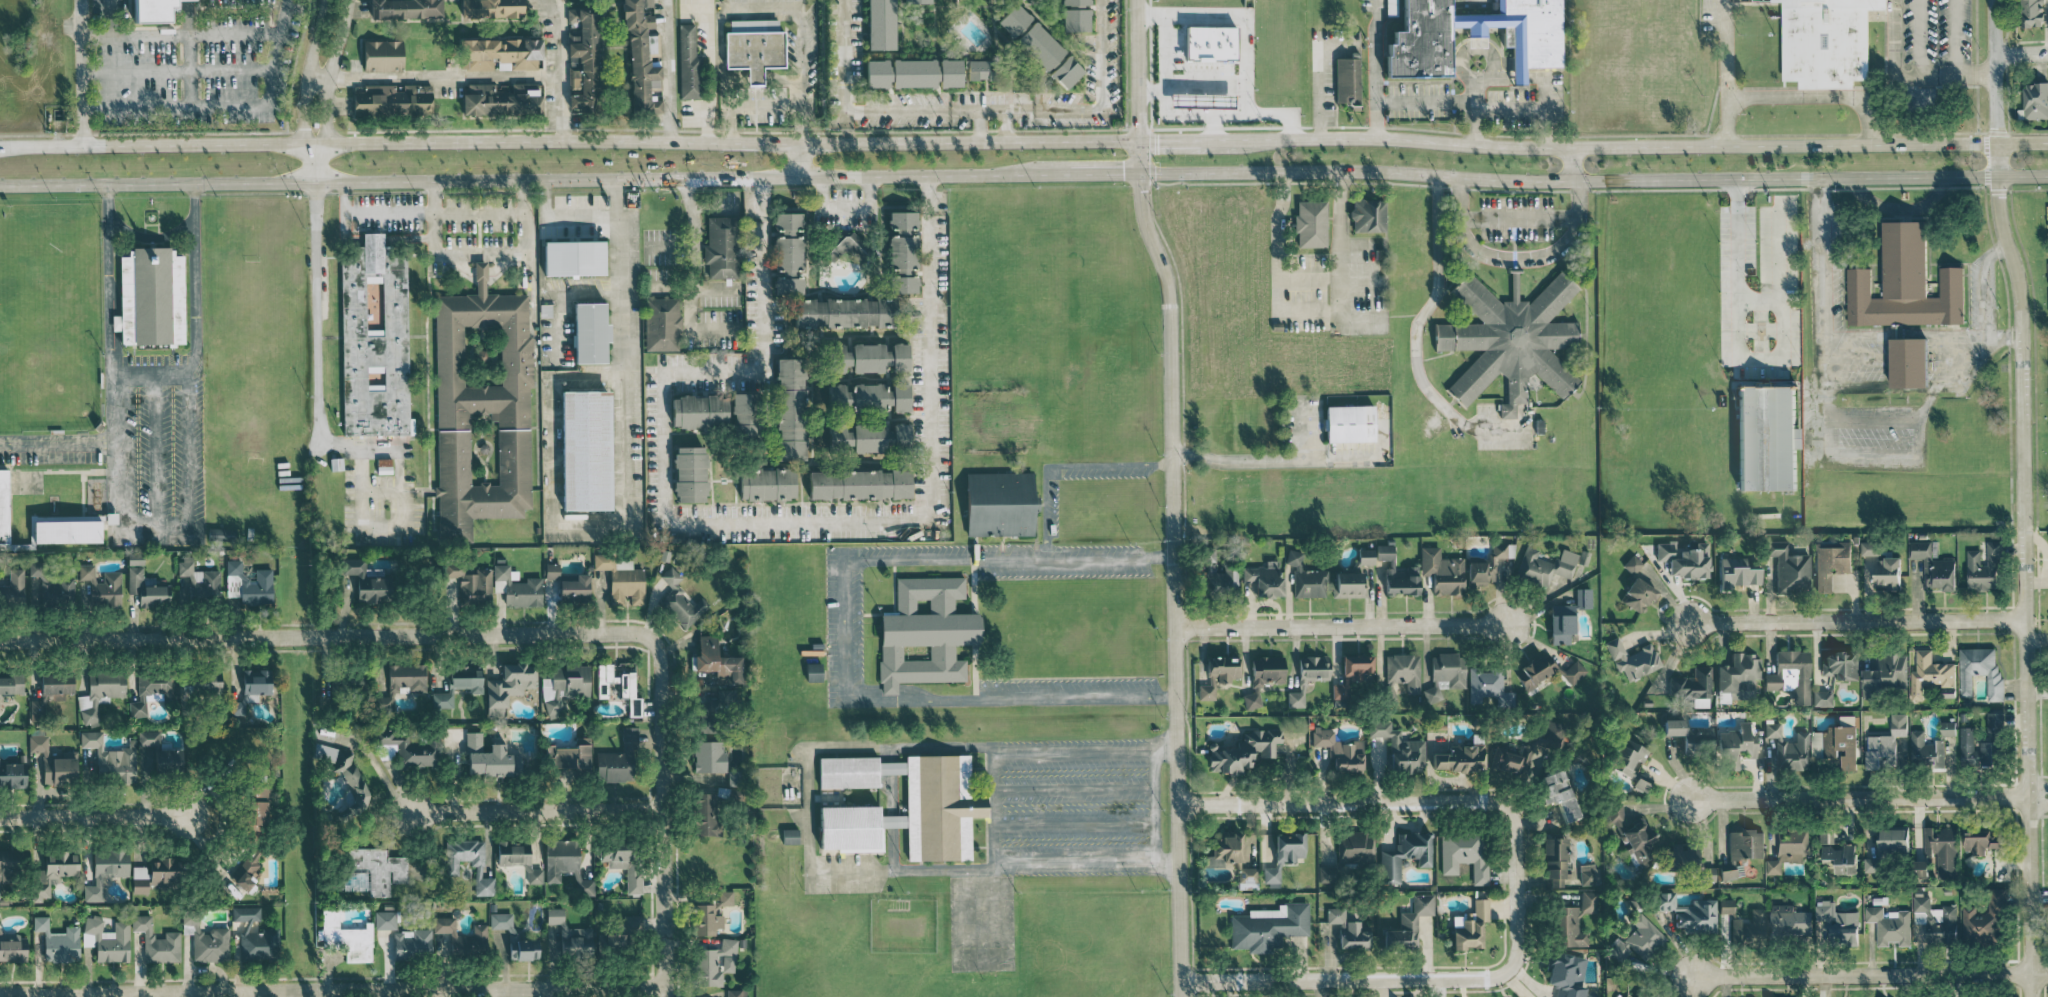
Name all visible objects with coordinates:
building: (912, 1)
building: (487, 8)
road: (778, 8)
building: (399, 9)
building: (153, 10)
building: (2028, 13)
building: (1070, 15)
road: (1191, 15)
road: (105, 18)
building: (1009, 19)
building: (876, 23)
parking lot: (1936, 32)
building: (1517, 33)
road: (179, 35)
road: (1920, 37)
road: (1953, 37)
building: (1413, 39)
building: (647, 41)
building: (1823, 41)
building: (1205, 43)
building: (1035, 45)
road: (1475, 45)
building: (749, 47)
road: (1727, 48)
building: (635, 52)
road: (188, 53)
building: (379, 55)
road: (843, 56)
road: (2024, 56)
building: (579, 62)
building: (686, 63)
road: (1244, 65)
road: (557, 69)
road: (1375, 69)
road: (175, 71)
road: (668, 71)
road: (80, 72)
road: (330, 72)
building: (945, 72)
building: (1061, 72)
road: (308, 73)
building: (871, 73)
building: (908, 73)
road: (1318, 73)
road: (1908, 76)
road: (319, 77)
road: (444, 77)
building: (1345, 81)
road: (1204, 83)
road: (1542, 84)
road: (2000, 88)
road: (1151, 90)
road: (1817, 97)
building: (497, 99)
building: (388, 101)
road: (1424, 101)
road: (1508, 105)
road: (226, 106)
building: (654, 106)
road: (1026, 110)
road: (1189, 114)
road: (1474, 114)
road: (1727, 122)
road: (979, 125)
road: (1006, 125)
road: (1212, 127)
road: (1024, 140)
traffic signals: (1137, 140)
road: (798, 159)
road: (316, 163)
road: (1575, 164)
road: (1102, 173)
traffic signals: (1137, 173)
road: (533, 179)
road: (1592, 179)
road: (713, 207)
road: (846, 207)
road: (436, 215)
building: (1365, 215)
road: (1519, 218)
road: (568, 219)
building: (1308, 223)
road: (1362, 242)
building: (716, 247)
building: (783, 253)
building: (896, 253)
road: (461, 255)
building: (574, 257)
road: (1516, 259)
road: (1737, 265)
road: (694, 275)
road: (1307, 277)
road: (194, 278)
road: (108, 279)
road: (1363, 282)
road: (1979, 287)
building: (151, 296)
building: (1905, 298)
building: (838, 313)
road: (1306, 313)
road: (1363, 315)
road: (318, 316)
building: (659, 324)
building: (591, 332)
road: (1415, 334)
building: (373, 340)
building: (1513, 347)
road: (625, 350)
building: (863, 358)
road: (152, 371)
road: (1819, 392)
road: (1930, 392)
road: (117, 406)
building: (481, 408)
road: (188, 409)
building: (740, 409)
building: (693, 412)
road: (549, 416)
building: (1346, 424)
building: (1767, 436)
road: (58, 442)
road: (153, 445)
road: (362, 448)
building: (586, 450)
road: (1292, 457)
road: (1071, 470)
building: (690, 478)
building: (767, 484)
building: (859, 484)
road: (1171, 496)
building: (999, 504)
building: (4, 507)
road: (152, 519)
road: (746, 523)
road: (587, 528)
building: (67, 529)
building: (1870, 548)
building: (1385, 552)
building: (1366, 556)
building: (135, 559)
building: (1684, 560)
building: (1830, 563)
building: (1632, 564)
building: (1548, 565)
building: (1488, 566)
building: (1934, 566)
building: (1789, 568)
building: (1984, 568)
building: (552, 571)
building: (1442, 572)
building: (1738, 572)
building: (1888, 572)
building: (1220, 575)
building: (1306, 578)
building: (622, 579)
building: (1265, 579)
building: (1402, 581)
building: (368, 582)
building: (199, 583)
building: (472, 584)
building: (49, 585)
building: (1349, 585)
road: (2023, 585)
building: (102, 587)
building: (13, 588)
building: (519, 588)
building: (147, 589)
building: (575, 590)
building: (1638, 595)
building: (1583, 598)
building: (680, 601)
road: (1856, 619)
building: (1562, 623)
road: (1340, 626)
road: (840, 630)
building: (925, 633)
road: (326, 636)
building: (1632, 659)
building: (717, 661)
building: (1841, 666)
building: (1404, 670)
building: (1980, 670)
building: (814, 672)
building: (1531, 673)
building: (1573, 673)
building: (1884, 673)
building: (1930, 673)
building: (1354, 674)
building: (1218, 675)
building: (1791, 675)
building: (1264, 677)
building: (1308, 677)
building: (1737, 677)
building: (403, 681)
building: (58, 683)
building: (206, 683)
building: (11, 685)
building: (459, 685)
building: (509, 686)
building: (1693, 686)
building: (565, 687)
building: (1488, 687)
building: (252, 688)
building: (618, 688)
building: (153, 691)
building: (100, 693)
building: (1822, 698)
building: (37, 710)
building: (712, 711)
building: (1690, 736)
building: (149, 738)
building: (1984, 743)
building: (1885, 744)
building: (1930, 744)
building: (1836, 745)
building: (1734, 746)
building: (411, 748)
building: (1788, 748)
building: (1399, 749)
building: (1527, 749)
building: (1340, 750)
building: (1242, 752)
building: (574, 755)
building: (709, 756)
building: (1628, 757)
building: (490, 758)
building: (1458, 758)
building: (111, 759)
building: (619, 760)
building: (168, 761)
building: (53, 763)
building: (345, 772)
building: (13, 773)
building: (1643, 782)
road: (1078, 787)
building: (1557, 793)
road: (2026, 795)
road: (1378, 796)
road: (1859, 796)
building: (920, 800)
road: (1155, 807)
road: (534, 810)
building: (257, 812)
building: (706, 816)
road: (91, 817)
road: (661, 817)
building: (851, 828)
building: (791, 836)
building: (1980, 840)
building: (1892, 841)
building: (1746, 844)
building: (1647, 845)
building: (1355, 846)
building: (1786, 846)
road: (1003, 847)
building: (1226, 850)
building: (1941, 850)
building: (1285, 854)
building: (1464, 854)
building: (1838, 854)
building: (1405, 855)
building: (519, 859)
building: (623, 860)
building: (1555, 860)
building: (1871, 865)
building: (566, 866)
building: (452, 867)
building: (1921, 868)
building: (55, 871)
building: (106, 871)
building: (373, 871)
road: (939, 874)
building: (1327, 874)
building: (1588, 874)
building: (1708, 874)
building: (1728, 874)
building: (157, 875)
building: (1247, 877)
building: (1665, 901)
building: (1726, 906)
building: (712, 914)
building: (1697, 917)
building: (1985, 919)
building: (385, 920)
building: (1790, 920)
building: (1936, 920)
building: (1573, 921)
building: (1410, 923)
building: (1838, 923)
building: (1471, 926)
building: (1890, 926)
building: (1269, 927)
building: (1750, 928)
building: (1348, 930)
building: (511, 934)
building: (256, 936)
building: (570, 936)
building: (346, 937)
building: (463, 938)
building: (620, 938)
building: (107, 939)
building: (1639, 940)
building: (208, 941)
building: (59, 942)
building: (157, 942)
building: (412, 944)
building: (13, 948)
building: (717, 963)
road: (1380, 974)
building: (1567, 974)
road: (1871, 974)
road: (332, 989)
building: (736, 993)
building: (1625, 996)
building: (1638, 996)

